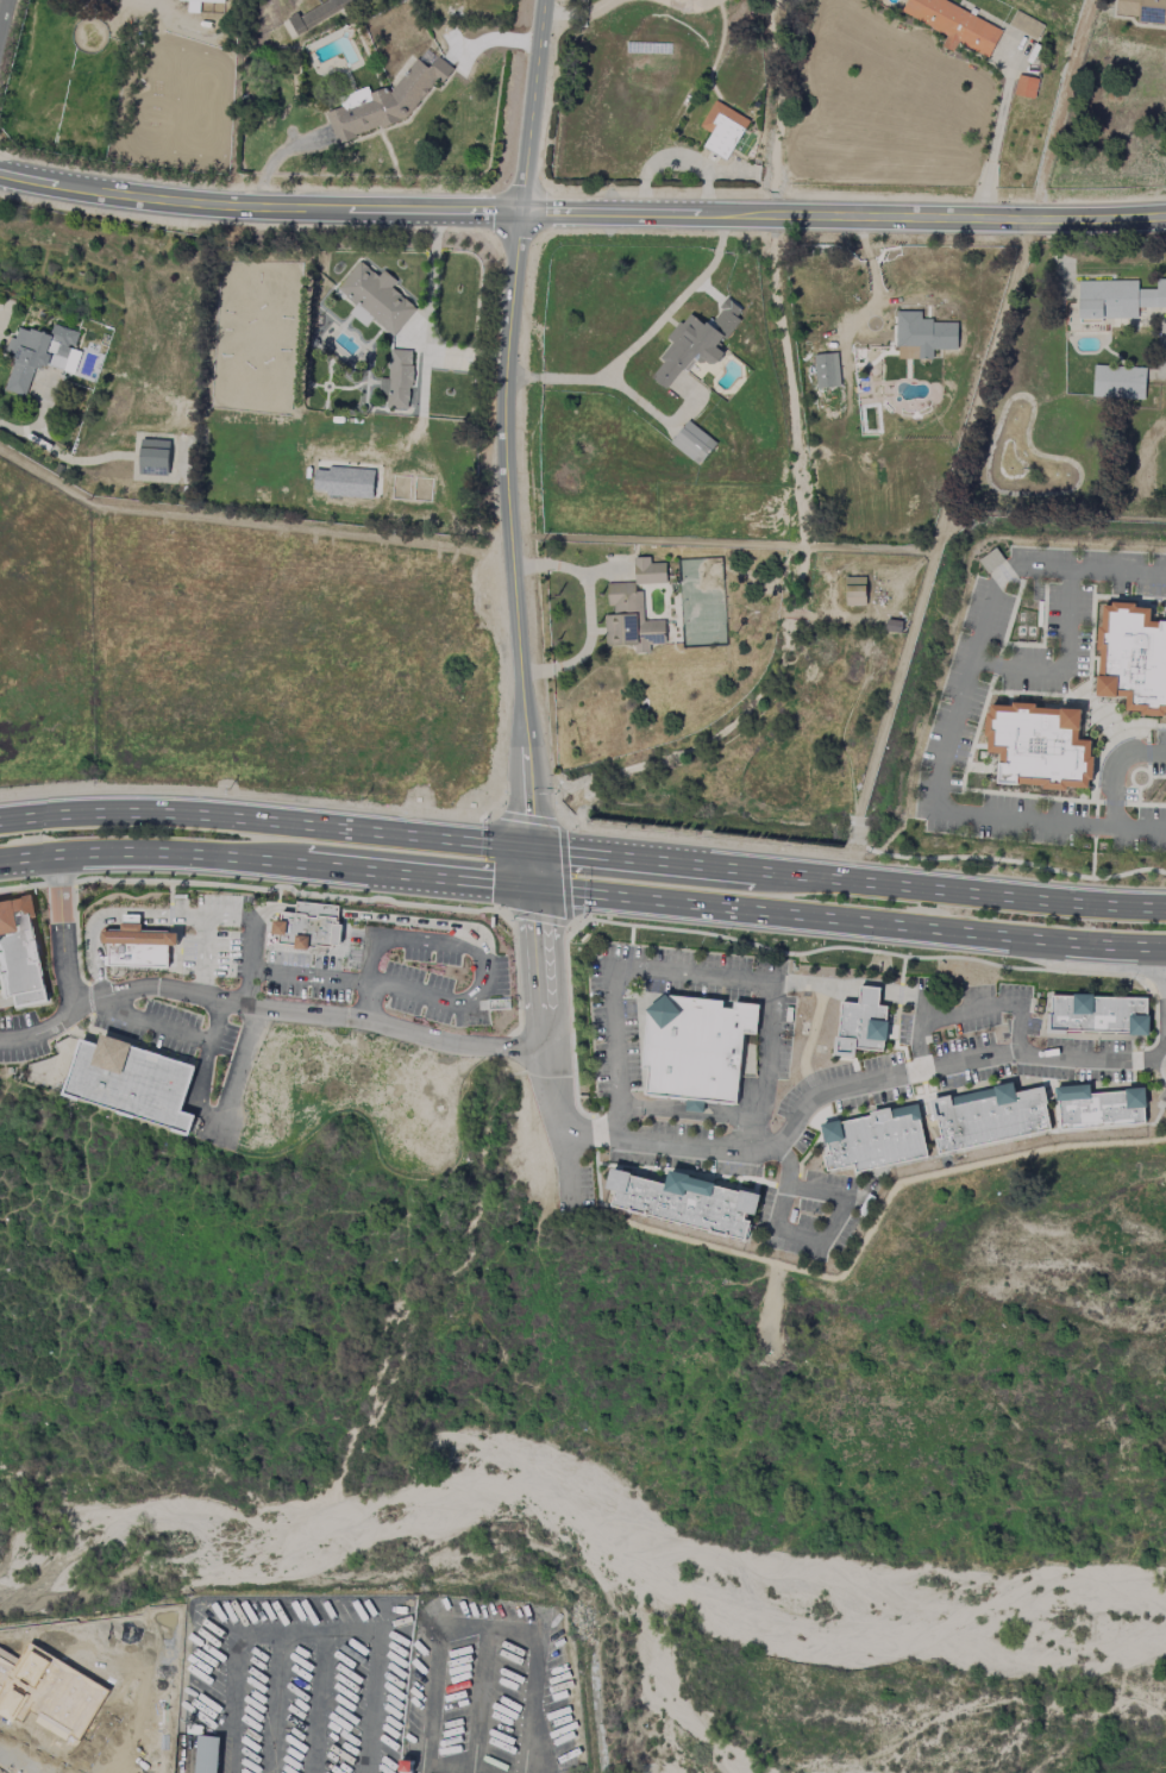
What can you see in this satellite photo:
building: (205, 0)
road: (688, 5)
road: (578, 11)
building: (1143, 11)
road: (4, 17)
building: (954, 25)
building: (1026, 25)
building: (1026, 87)
building: (387, 102)
road: (533, 105)
building: (722, 130)
road: (998, 137)
road: (622, 213)
road: (258, 214)
road: (946, 219)
building: (377, 297)
building: (1117, 299)
building: (361, 315)
building: (922, 336)
road: (644, 342)
building: (696, 343)
building: (39, 355)
building: (827, 370)
building: (397, 380)
building: (1118, 382)
building: (692, 443)
building: (153, 457)
building: (344, 482)
road: (509, 530)
building: (648, 571)
building: (854, 591)
building: (631, 620)
building: (1133, 657)
road: (1064, 662)
road: (506, 671)
road: (954, 715)
building: (1039, 746)
road: (1114, 769)
road: (238, 796)
road: (527, 820)
road: (487, 825)
road: (578, 834)
traffic signals: (531, 851)
road: (583, 856)
road: (872, 859)
road: (532, 871)
road: (565, 875)
road: (58, 885)
road: (21, 888)
road: (283, 890)
traffic signals: (533, 891)
road: (170, 892)
road: (583, 895)
road: (277, 907)
road: (170, 913)
road: (587, 917)
road: (369, 919)
road: (212, 922)
road: (96, 925)
road: (538, 925)
road: (173, 926)
building: (311, 929)
road: (515, 929)
road: (263, 932)
road: (63, 933)
road: (631, 935)
road: (76, 938)
parking lot: (219, 938)
road: (385, 941)
building: (138, 945)
road: (860, 951)
building: (20, 956)
road: (206, 959)
road: (1093, 963)
road: (295, 967)
road: (628, 970)
road: (538, 972)
road: (901, 972)
parking lot: (430, 975)
road: (696, 976)
parking lot: (708, 977)
road: (1146, 977)
road: (516, 978)
road: (121, 979)
road: (1159, 982)
road: (654, 983)
road: (391, 990)
road: (658, 994)
road: (857, 997)
road: (898, 997)
road: (14, 1000)
road: (89, 1000)
road: (267, 1009)
road: (623, 1009)
road: (968, 1009)
building: (1096, 1015)
road: (909, 1021)
parking lot: (613, 1022)
road: (115, 1026)
building: (863, 1026)
road: (151, 1027)
parking lot: (169, 1030)
road: (811, 1032)
road: (1030, 1033)
road: (251, 1034)
road: (571, 1035)
road: (1156, 1035)
road: (513, 1038)
parking lot: (776, 1038)
parking lot: (21, 1040)
road: (516, 1044)
road: (1136, 1048)
building: (698, 1051)
road: (895, 1051)
parking lot: (971, 1051)
road: (835, 1053)
road: (1159, 1053)
road: (190, 1059)
road: (1134, 1063)
road: (203, 1066)
road: (915, 1071)
road: (1160, 1071)
building: (49, 1072)
road: (954, 1076)
building: (134, 1084)
road: (816, 1091)
road: (815, 1095)
road: (689, 1107)
building: (1097, 1108)
parking lot: (800, 1114)
road: (1158, 1117)
road: (703, 1119)
building: (990, 1119)
road: (594, 1133)
building: (877, 1141)
parking lot: (685, 1151)
road: (731, 1164)
road: (606, 1166)
road: (569, 1171)
road: (802, 1172)
road: (619, 1173)
road: (597, 1177)
road: (747, 1180)
road: (786, 1186)
road: (756, 1188)
building: (691, 1203)
parking lot: (814, 1215)
road: (872, 1226)
road: (803, 1245)
road: (771, 1251)
road: (302, 1597)
building: (206, 1754)

